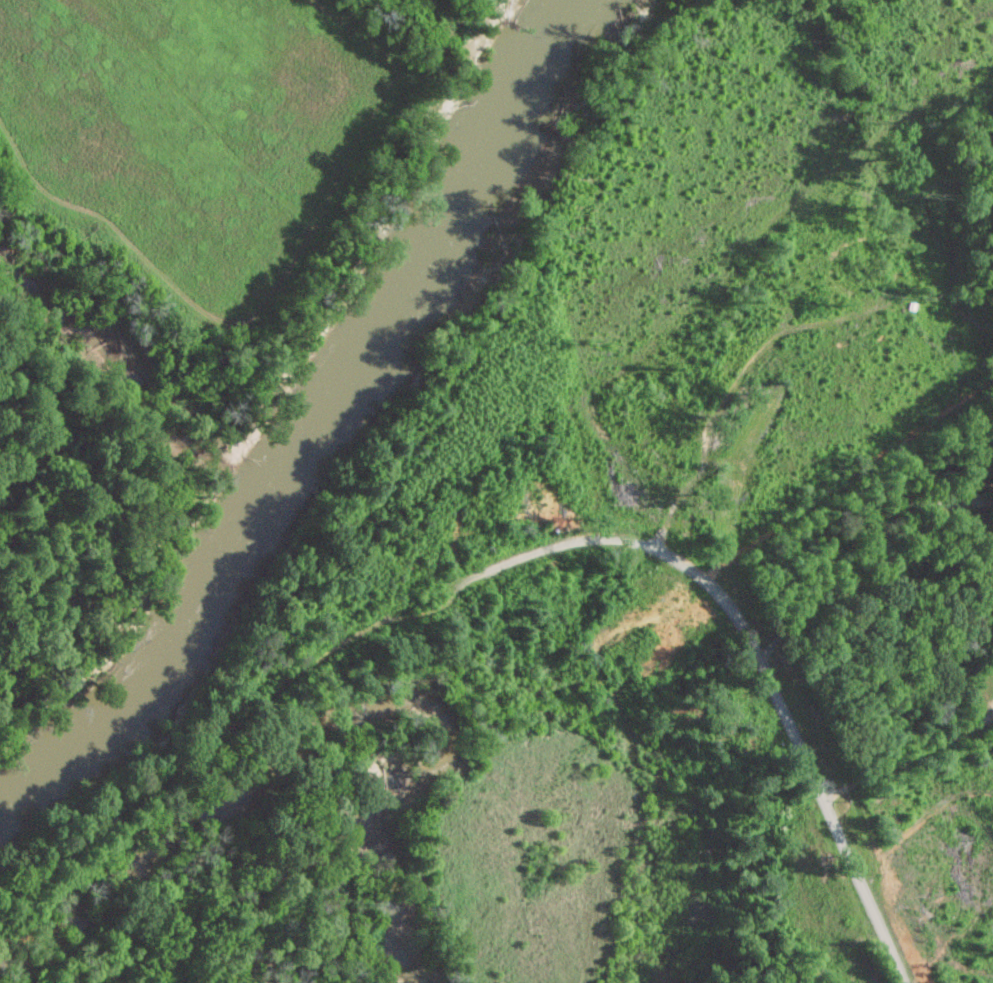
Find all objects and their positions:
river: (429, 241)
road: (842, 542)
road: (761, 656)
river: (161, 675)
road: (225, 731)
road: (909, 758)

